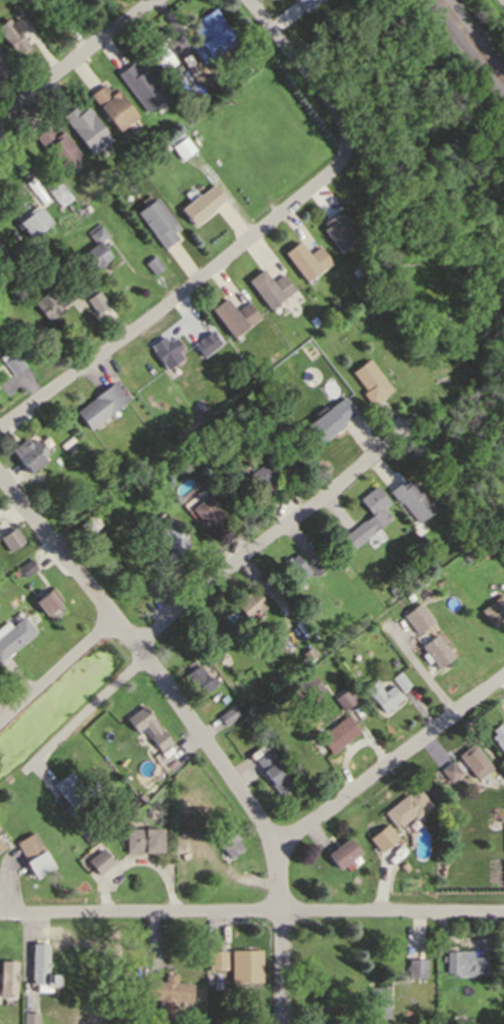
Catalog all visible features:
building: (63, 0)
building: (305, 3)
building: (209, 34)
building: (12, 35)
railway: (472, 40)
building: (159, 56)
road: (76, 58)
building: (3, 66)
road: (316, 69)
building: (139, 86)
building: (121, 116)
building: (84, 127)
building: (56, 147)
building: (182, 150)
road: (15, 159)
building: (55, 189)
building: (200, 203)
building: (29, 217)
building: (155, 220)
building: (337, 229)
building: (94, 249)
building: (305, 259)
building: (151, 265)
building: (356, 272)
road: (189, 284)
building: (268, 287)
building: (48, 302)
building: (95, 302)
building: (232, 315)
building: (203, 343)
building: (288, 343)
building: (164, 351)
building: (10, 361)
building: (370, 381)
building: (99, 405)
building: (329, 419)
building: (280, 424)
building: (27, 454)
building: (260, 476)
building: (159, 494)
building: (411, 499)
building: (206, 512)
building: (367, 516)
building: (87, 526)
building: (171, 534)
building: (11, 539)
building: (459, 543)
building: (465, 555)
building: (315, 565)
building: (26, 567)
building: (293, 570)
road: (181, 578)
building: (392, 590)
building: (409, 596)
building: (47, 599)
building: (250, 604)
building: (494, 609)
building: (416, 618)
building: (13, 635)
building: (435, 651)
building: (307, 653)
building: (199, 678)
building: (402, 682)
building: (308, 686)
building: (383, 695)
building: (345, 697)
road: (87, 709)
building: (228, 715)
building: (146, 726)
road: (199, 727)
building: (337, 733)
building: (498, 737)
road: (391, 757)
building: (474, 760)
building: (274, 770)
building: (449, 771)
building: (74, 788)
building: (405, 808)
building: (105, 824)
building: (88, 834)
building: (143, 839)
building: (384, 839)
building: (415, 841)
building: (229, 844)
building: (1, 846)
building: (91, 851)
building: (343, 852)
building: (33, 854)
building: (100, 862)
building: (216, 877)
building: (178, 881)
road: (252, 911)
building: (216, 959)
building: (39, 963)
building: (463, 963)
building: (245, 965)
building: (415, 966)
building: (8, 979)
building: (167, 993)
building: (377, 1000)
building: (30, 1018)

